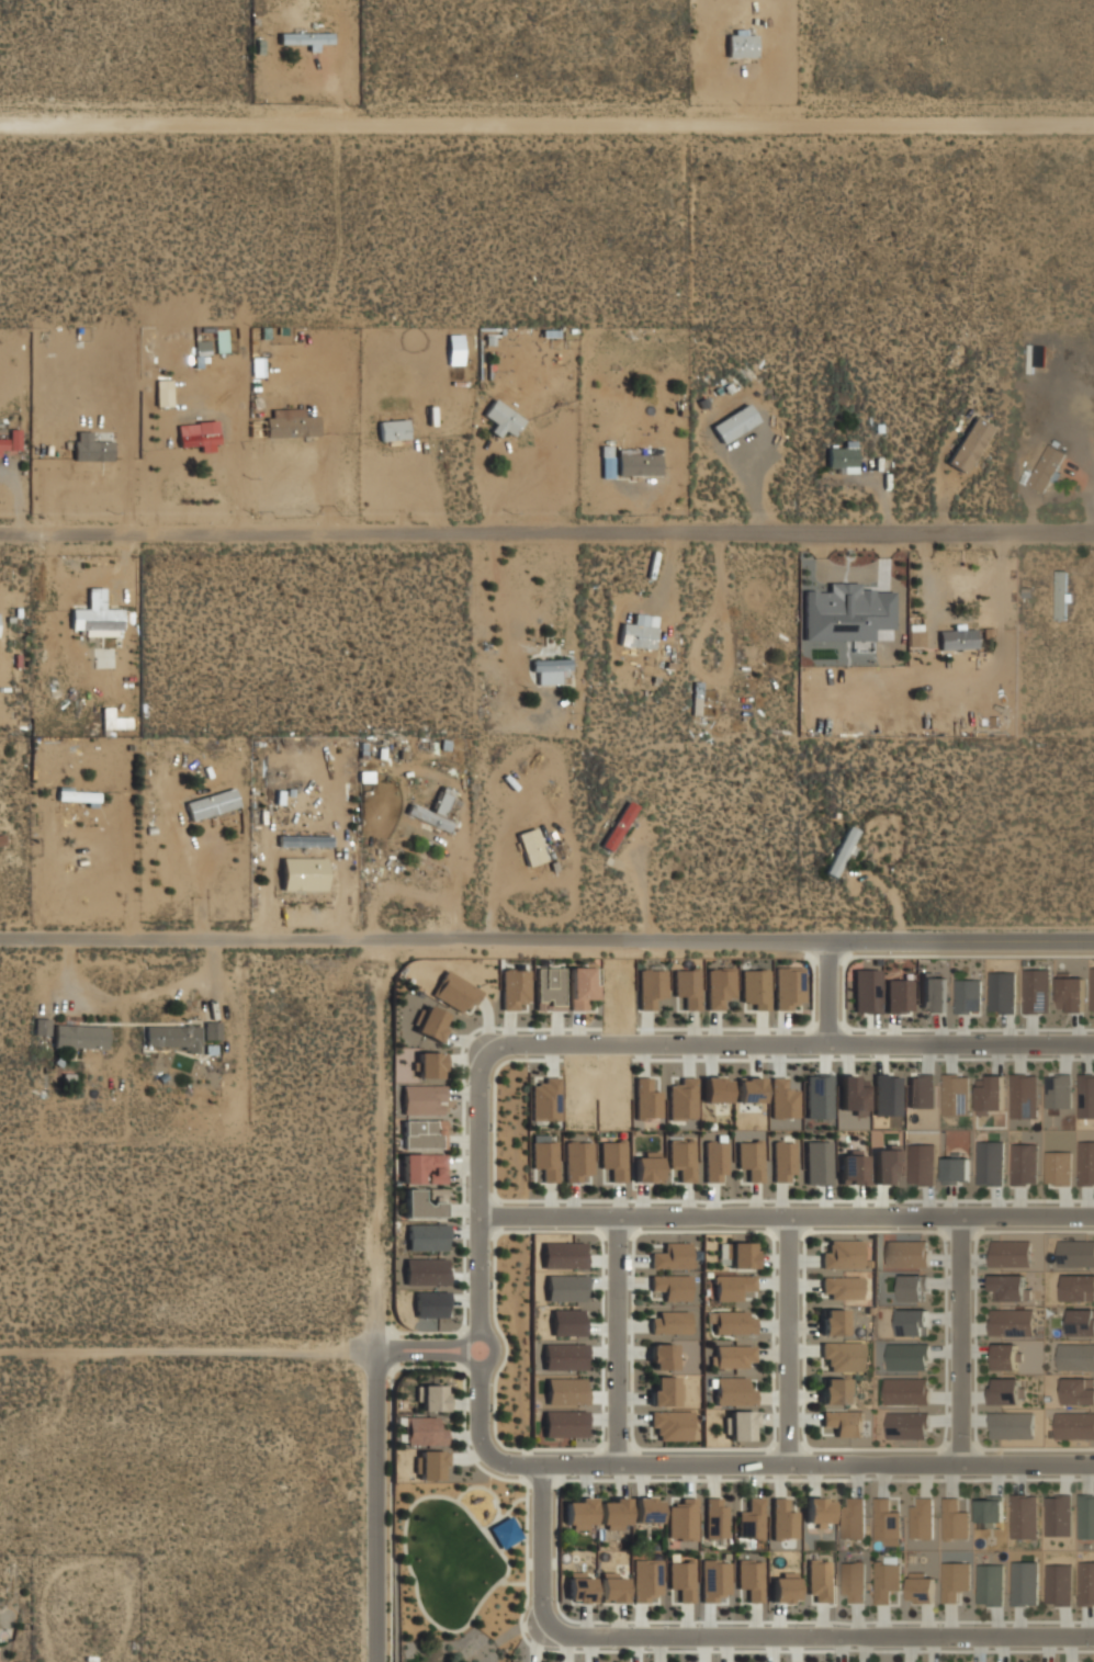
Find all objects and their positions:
building: (304, 36)
building: (741, 44)
road: (546, 127)
building: (162, 395)
building: (501, 417)
building: (734, 422)
building: (291, 425)
building: (393, 429)
building: (201, 434)
building: (11, 439)
building: (968, 443)
building: (90, 446)
building: (842, 454)
building: (638, 462)
building: (1047, 466)
road: (546, 534)
building: (1061, 593)
building: (847, 612)
building: (95, 620)
building: (636, 633)
building: (957, 637)
building: (915, 638)
building: (549, 668)
building: (696, 696)
building: (77, 794)
building: (211, 802)
building: (435, 810)
building: (619, 825)
building: (304, 839)
building: (2, 840)
building: (531, 845)
building: (841, 850)
road: (303, 867)
road: (200, 893)
road: (546, 947)
road: (969, 953)
building: (583, 986)
building: (651, 986)
building: (687, 986)
building: (719, 986)
building: (515, 987)
building: (789, 987)
building: (550, 988)
building: (755, 988)
building: (1092, 988)
building: (867, 991)
building: (1002, 991)
building: (1035, 991)
building: (455, 992)
building: (934, 992)
building: (1070, 994)
road: (830, 995)
building: (900, 995)
building: (968, 995)
building: (431, 1021)
building: (41, 1025)
building: (211, 1029)
building: (79, 1034)
building: (171, 1036)
building: (429, 1063)
building: (715, 1088)
building: (749, 1088)
building: (1058, 1090)
building: (922, 1092)
building: (990, 1094)
building: (854, 1095)
building: (888, 1095)
building: (955, 1095)
building: (819, 1096)
building: (1024, 1096)
building: (422, 1098)
building: (544, 1098)
building: (681, 1098)
building: (782, 1098)
building: (645, 1099)
building: (1087, 1109)
building: (422, 1132)
building: (683, 1156)
building: (545, 1157)
building: (614, 1157)
building: (751, 1157)
building: (577, 1161)
building: (714, 1161)
building: (785, 1161)
building: (819, 1162)
building: (922, 1163)
building: (990, 1163)
building: (1024, 1163)
building: (1086, 1163)
building: (888, 1164)
building: (422, 1167)
building: (646, 1167)
building: (1058, 1167)
building: (851, 1168)
building: (956, 1168)
building: (422, 1201)
road: (787, 1217)
building: (427, 1237)
building: (1076, 1252)
building: (842, 1253)
building: (905, 1253)
building: (1010, 1253)
building: (741, 1254)
building: (563, 1255)
building: (672, 1255)
building: (425, 1270)
building: (672, 1285)
building: (731, 1286)
building: (841, 1287)
building: (913, 1287)
building: (1010, 1287)
building: (1079, 1287)
building: (565, 1288)
building: (430, 1304)
road: (387, 1305)
building: (731, 1320)
building: (669, 1321)
building: (833, 1321)
building: (1082, 1321)
building: (567, 1322)
building: (912, 1322)
building: (1011, 1322)
road: (480, 1334)
road: (617, 1341)
road: (787, 1341)
road: (960, 1341)
road: (193, 1355)
road: (433, 1355)
building: (662, 1355)
building: (842, 1355)
building: (907, 1355)
building: (1006, 1355)
building: (1076, 1355)
building: (564, 1356)
building: (731, 1356)
building: (664, 1390)
building: (733, 1390)
building: (836, 1390)
building: (906, 1390)
building: (1006, 1390)
building: (1079, 1390)
building: (565, 1391)
building: (430, 1397)
building: (843, 1421)
building: (564, 1423)
building: (670, 1423)
building: (738, 1424)
building: (1011, 1424)
building: (1074, 1424)
building: (907, 1425)
building: (421, 1429)
building: (430, 1463)
road: (817, 1463)
road: (492, 1493)
road: (448, 1495)
road: (515, 1501)
road: (391, 1508)
building: (647, 1508)
building: (817, 1511)
building: (989, 1511)
building: (578, 1512)
building: (612, 1512)
building: (853, 1516)
building: (922, 1516)
building: (1024, 1516)
building: (1086, 1516)
building: (715, 1517)
building: (751, 1518)
building: (886, 1518)
building: (954, 1518)
building: (1058, 1518)
building: (681, 1519)
building: (782, 1519)
building: (505, 1531)
park: (460, 1570)
building: (681, 1578)
building: (751, 1578)
building: (714, 1579)
building: (817, 1579)
building: (954, 1579)
building: (646, 1580)
building: (886, 1580)
road: (519, 1581)
building: (853, 1581)
building: (988, 1581)
building: (1024, 1583)
building: (1056, 1583)
building: (1086, 1583)
building: (579, 1587)
building: (613, 1587)
building: (783, 1587)
building: (921, 1587)

